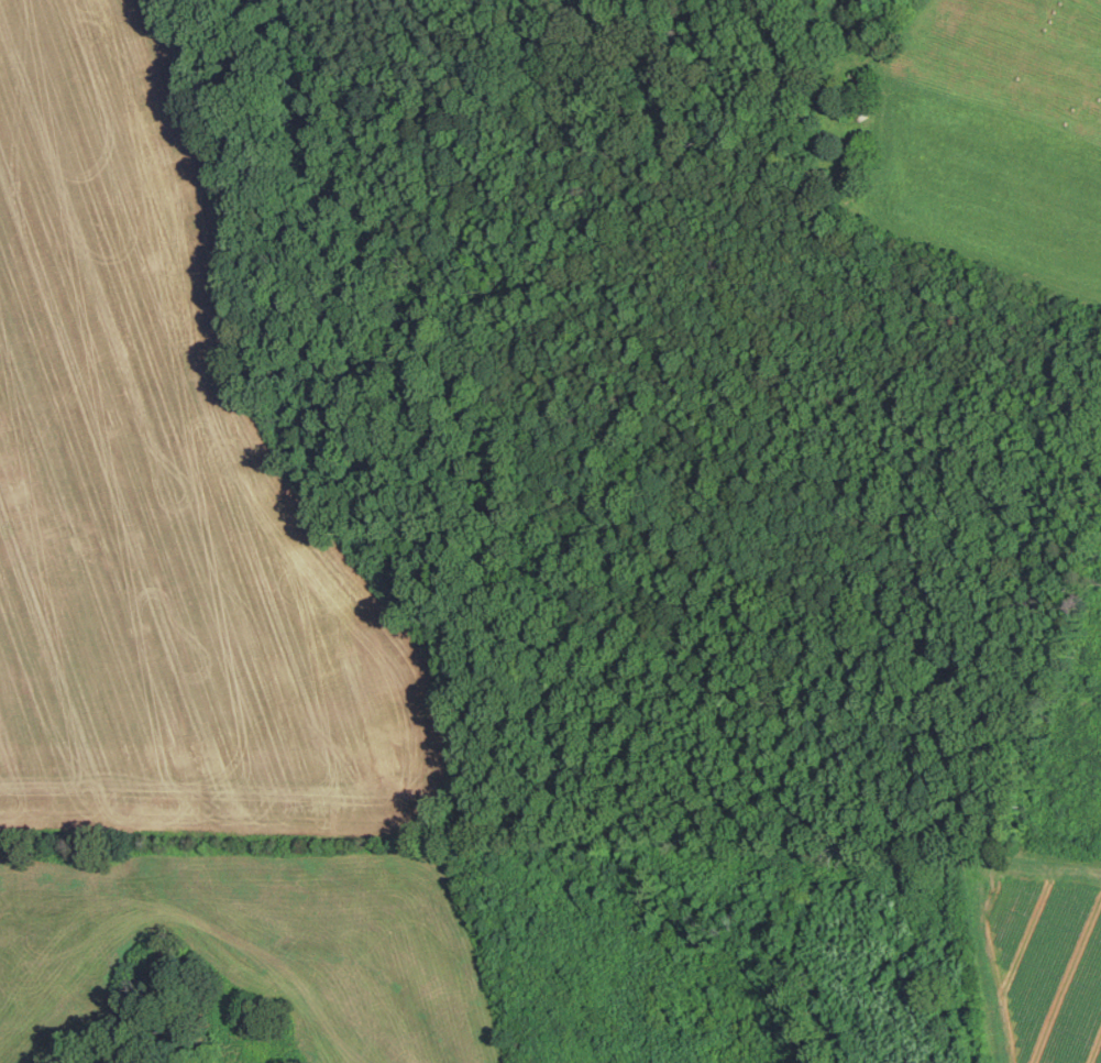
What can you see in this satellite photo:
crop: (973, 136)
crop: (166, 491)

